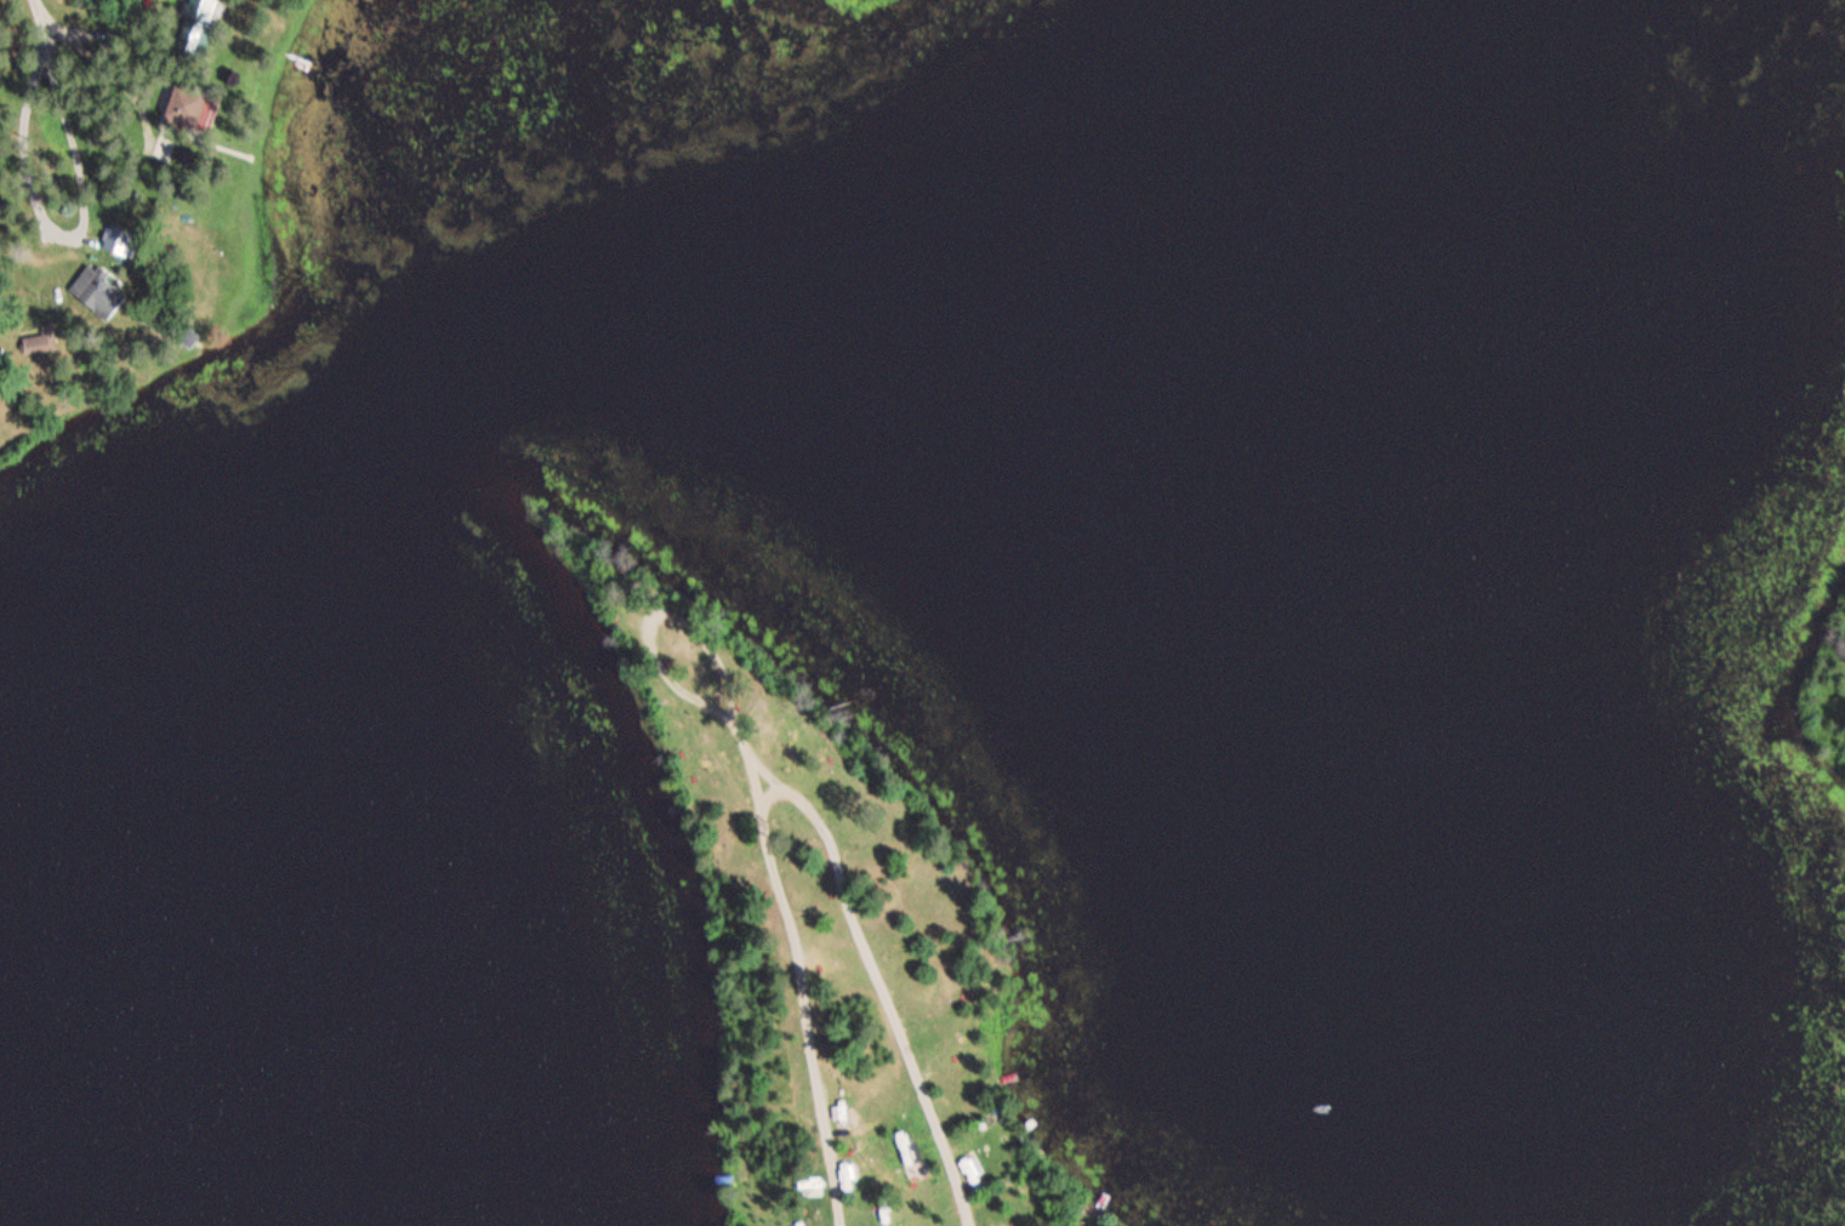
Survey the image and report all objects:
road: (45, 15)
building: (206, 24)
building: (194, 107)
building: (101, 290)
building: (38, 341)
park: (844, 929)
building: (973, 1170)

